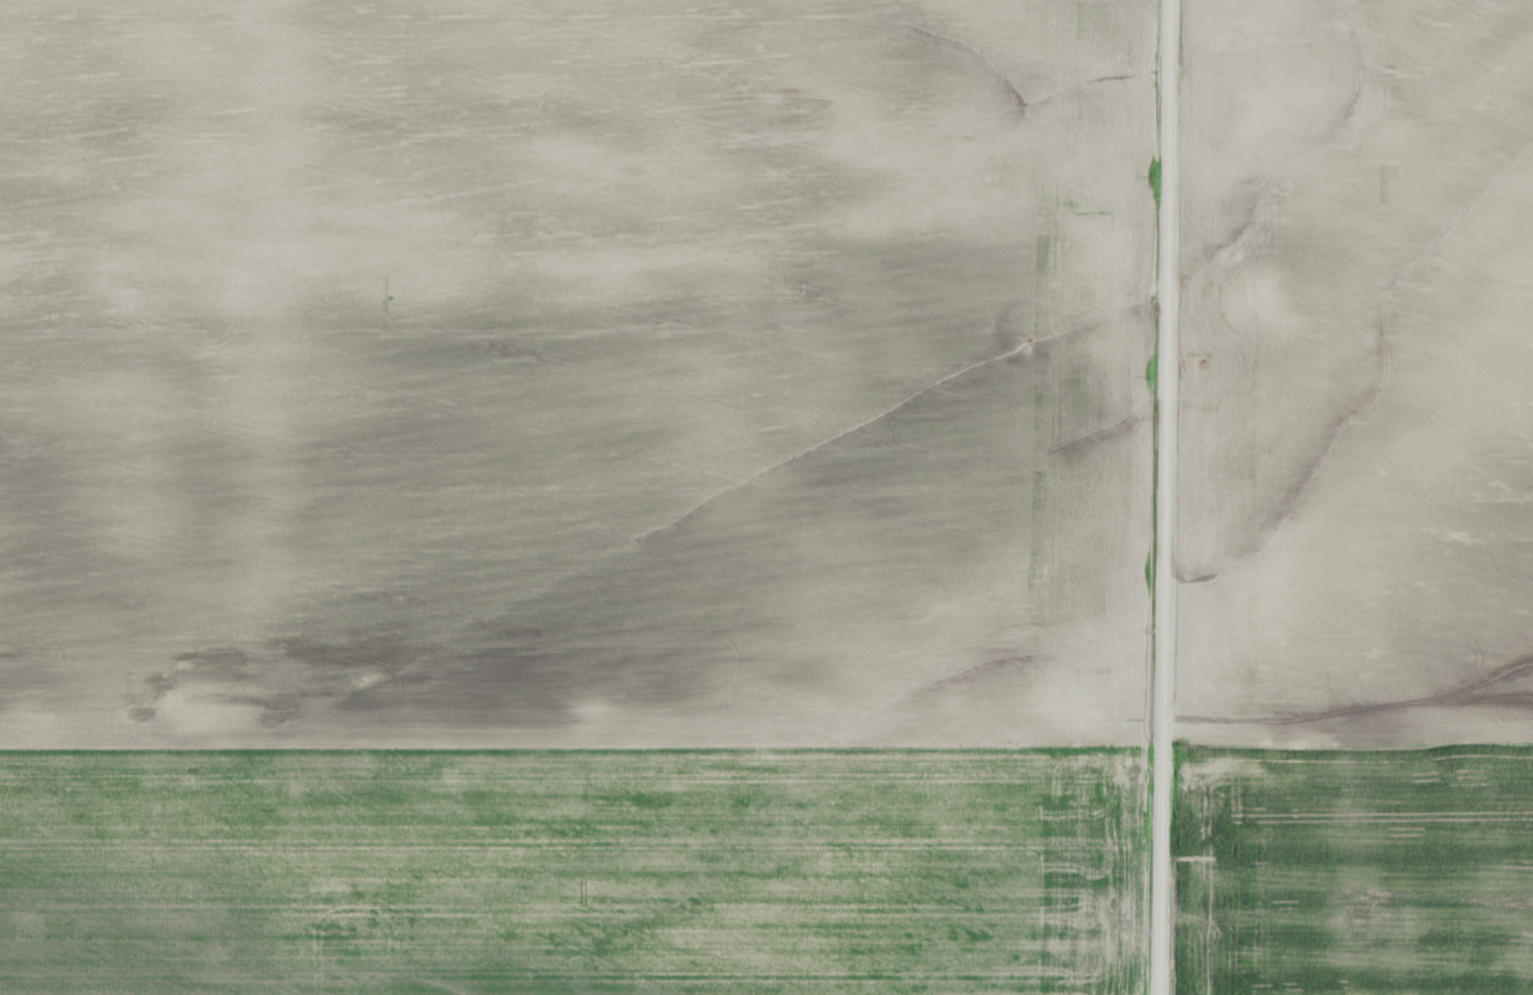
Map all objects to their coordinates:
road: (1166, 497)

